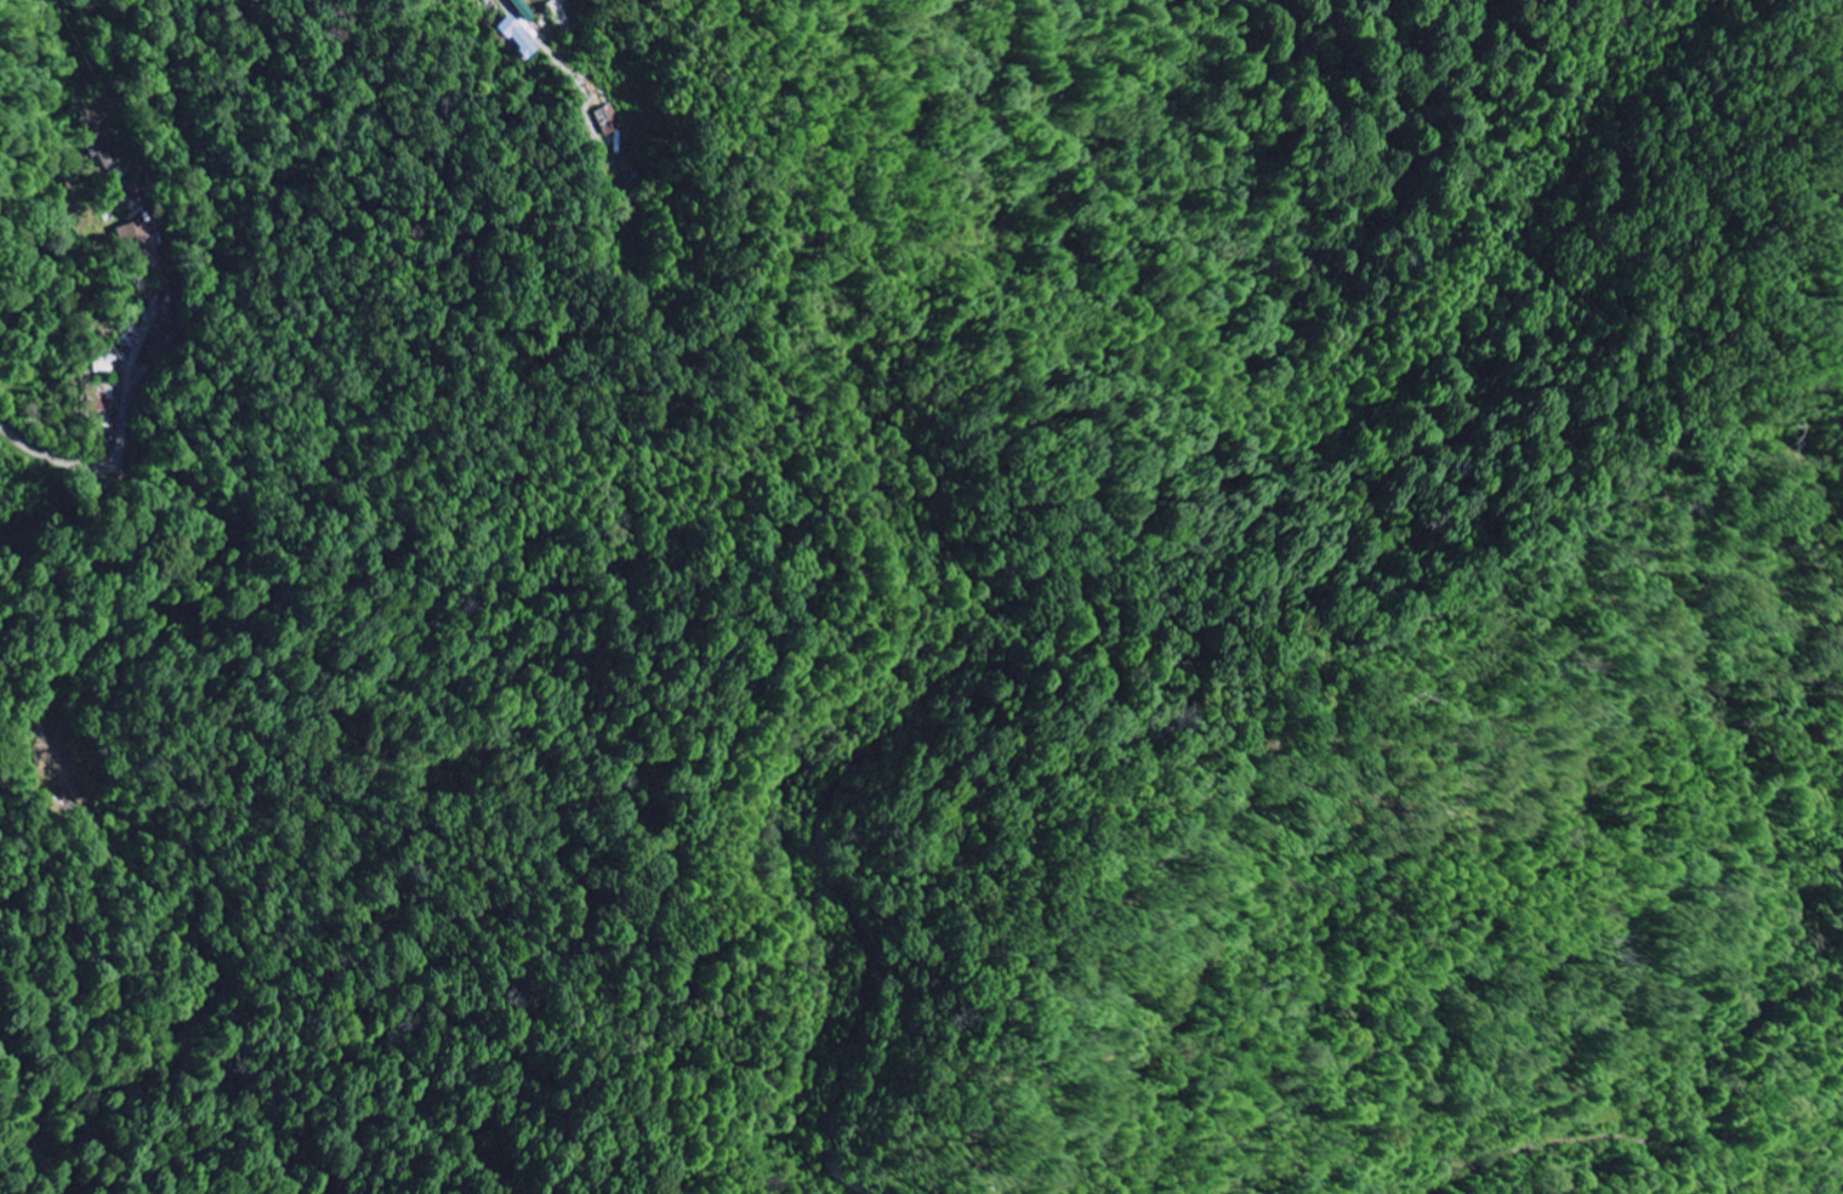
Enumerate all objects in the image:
building: (513, 40)
building: (132, 240)
road: (195, 300)

